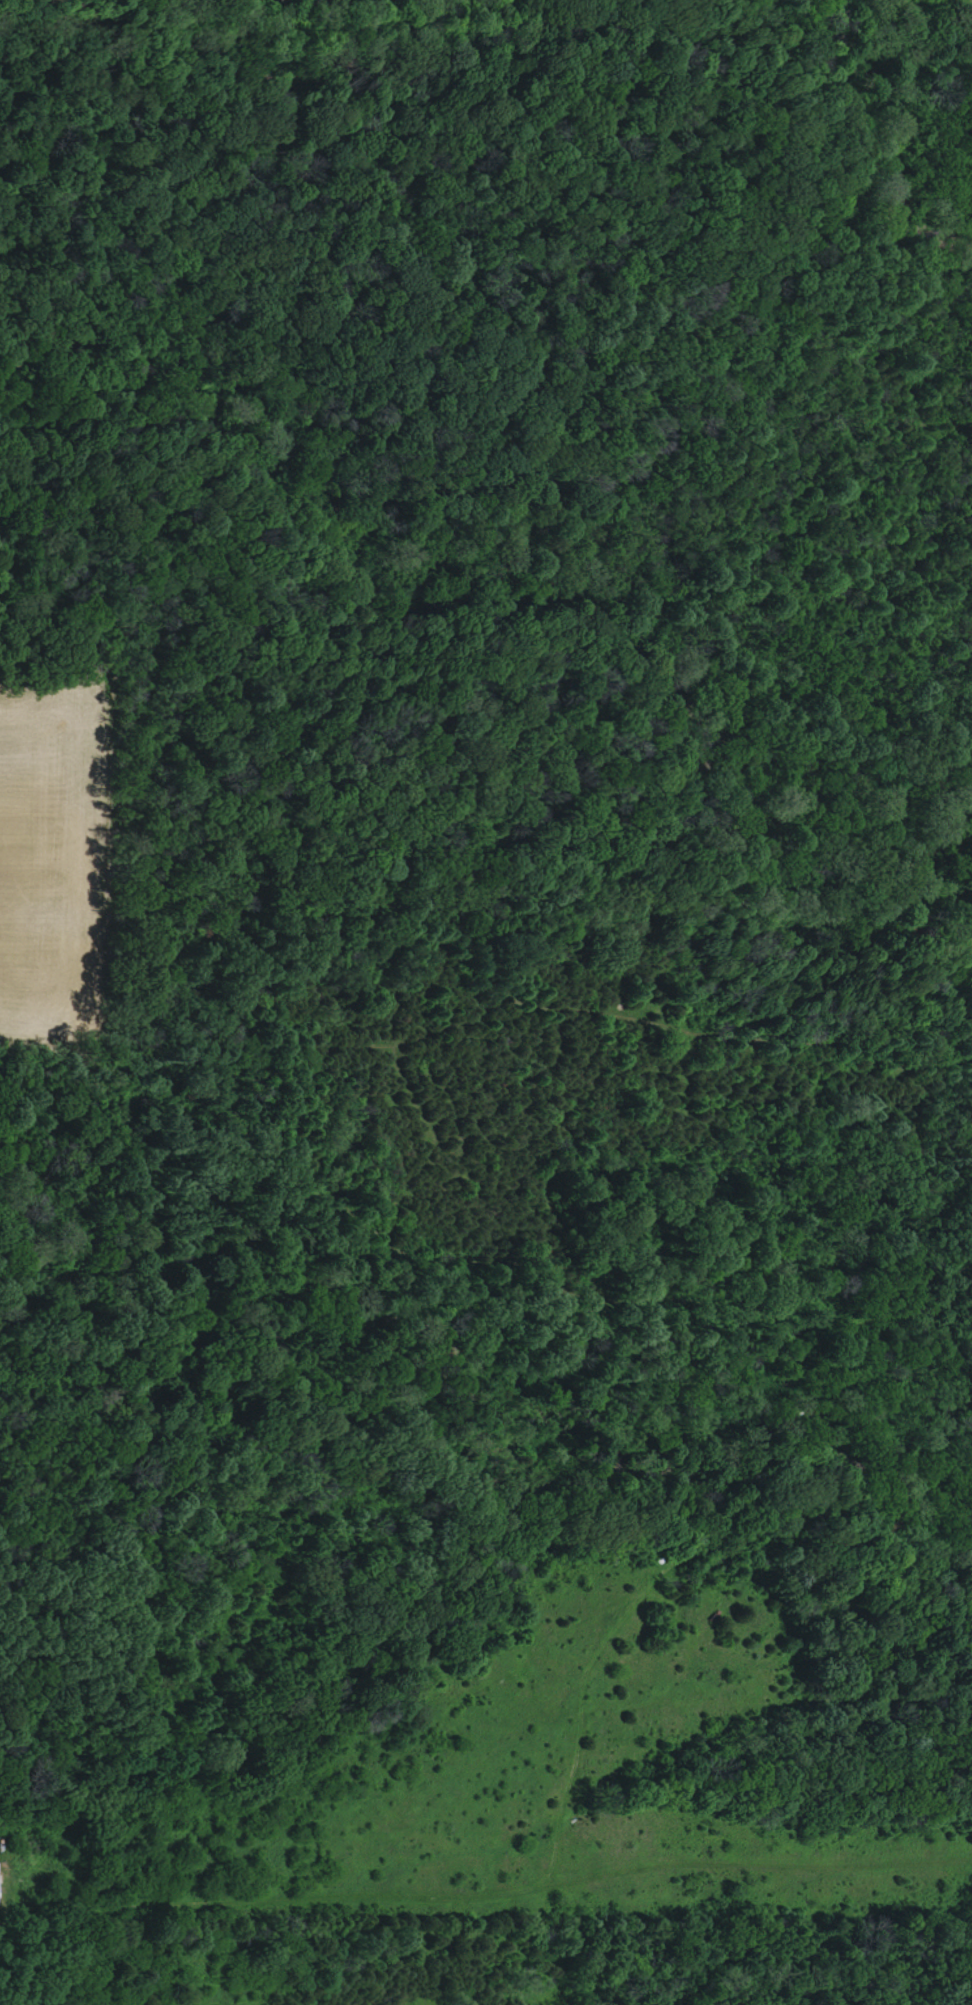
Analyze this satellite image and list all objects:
road: (487, 1941)

